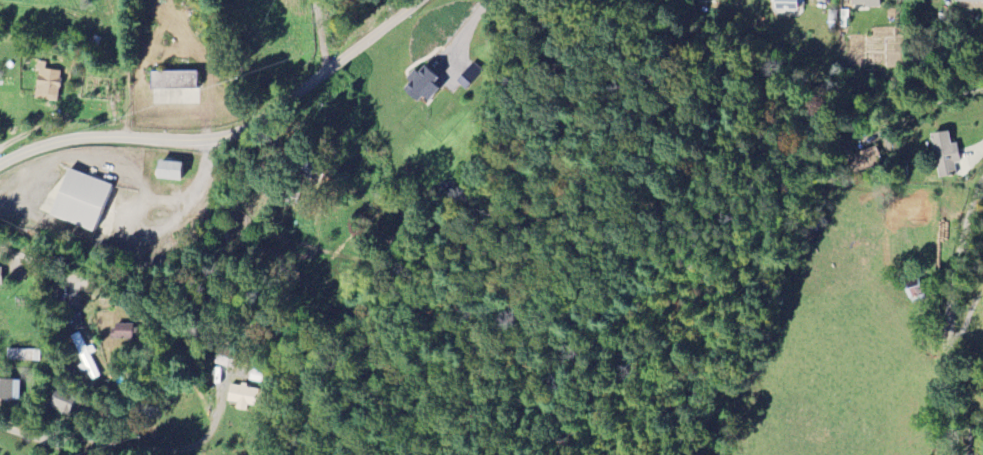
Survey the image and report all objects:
building: (970, 0)
building: (861, 2)
building: (785, 5)
road: (465, 28)
road: (319, 33)
building: (173, 79)
building: (47, 82)
building: (420, 85)
road: (926, 104)
road: (226, 133)
road: (972, 152)
building: (944, 155)
building: (865, 160)
building: (168, 169)
building: (80, 199)
road: (143, 204)
road: (37, 263)
building: (0, 277)
building: (916, 295)
road: (948, 316)
building: (23, 354)
building: (86, 356)
building: (10, 389)
building: (244, 396)
building: (63, 403)
road: (41, 440)
road: (174, 447)

